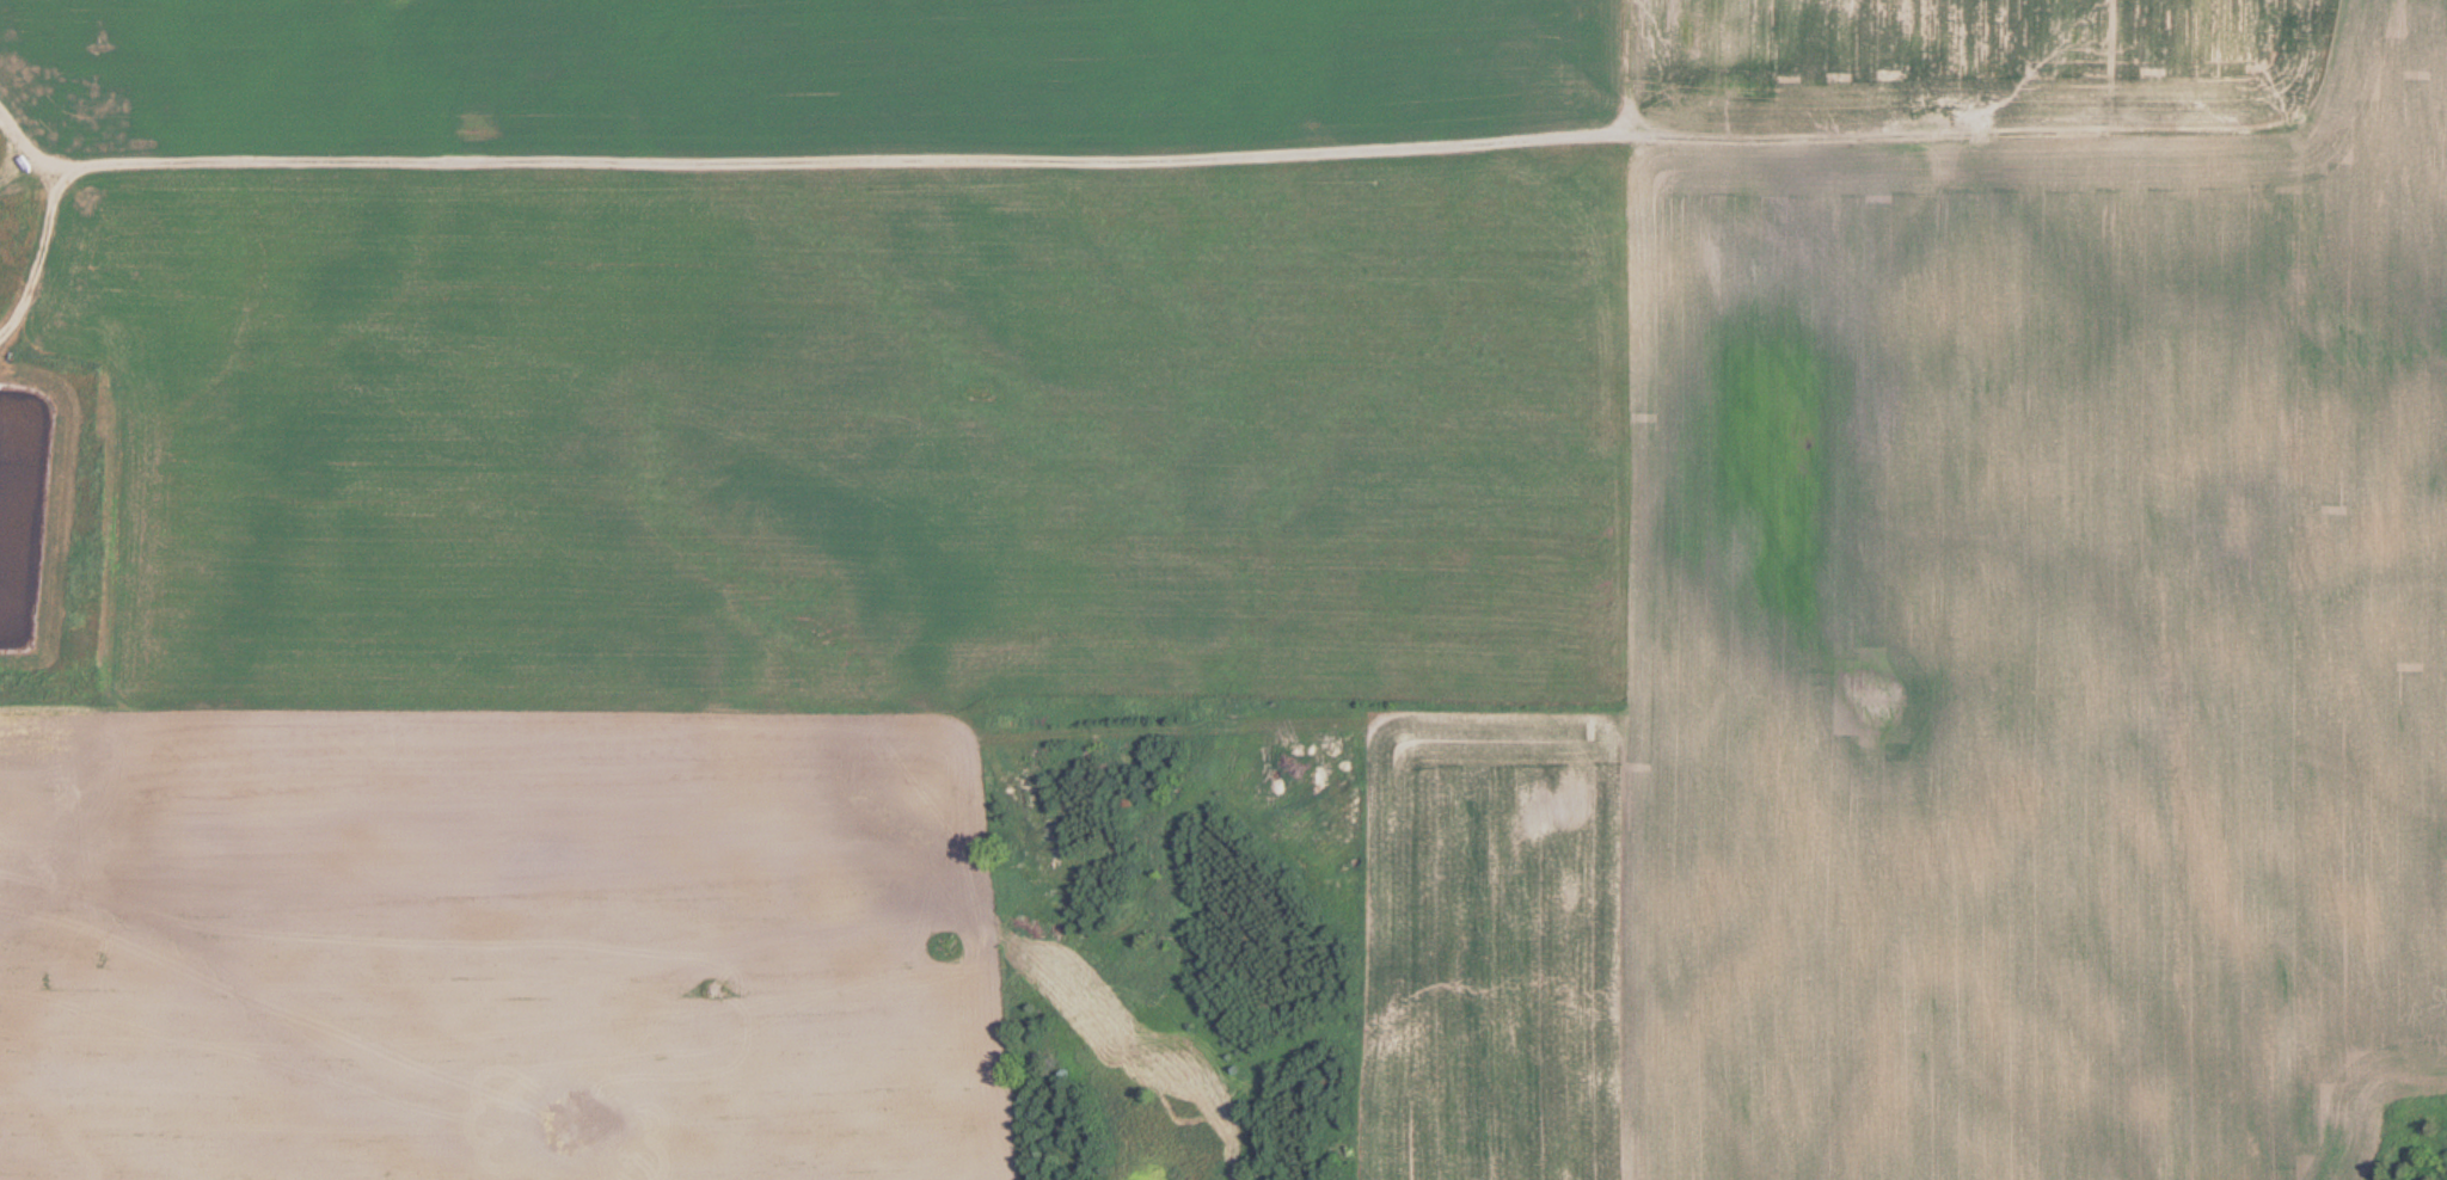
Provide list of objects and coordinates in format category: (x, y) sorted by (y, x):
road: (1191, 186)

